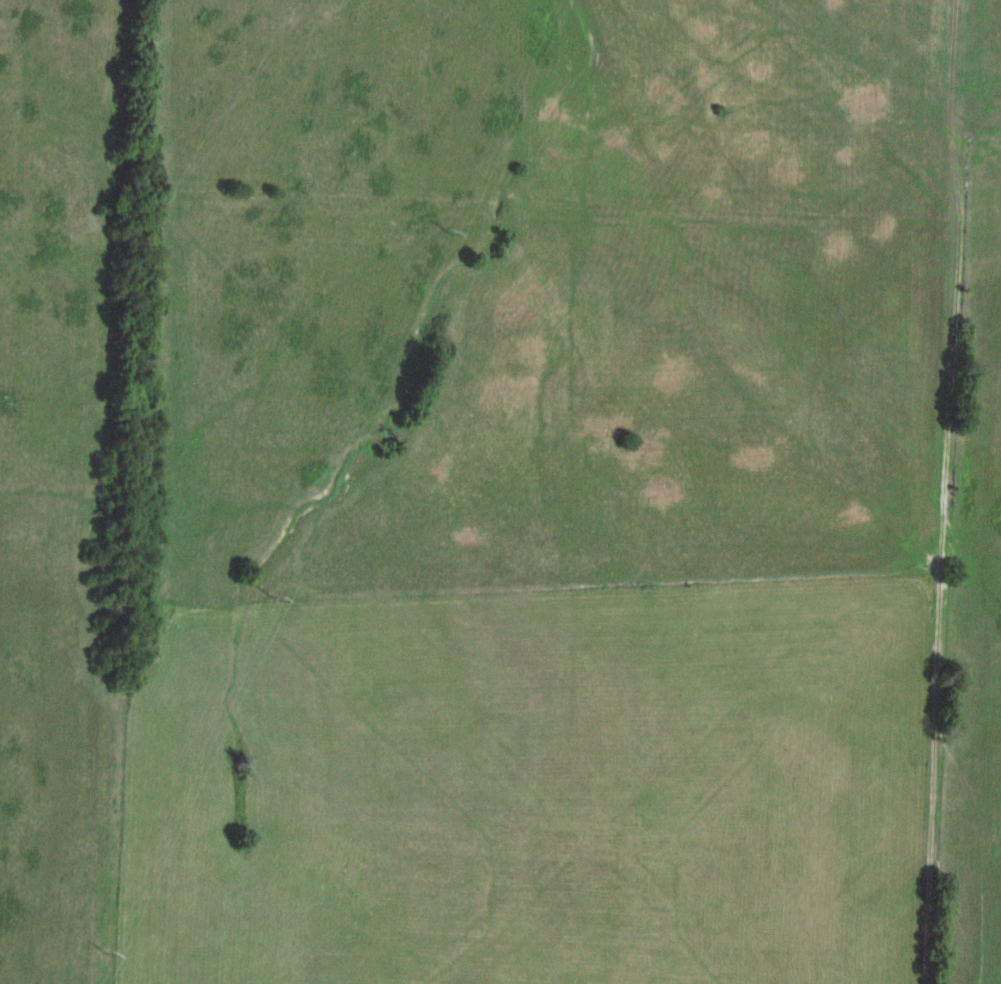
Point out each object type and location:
road: (944, 490)

